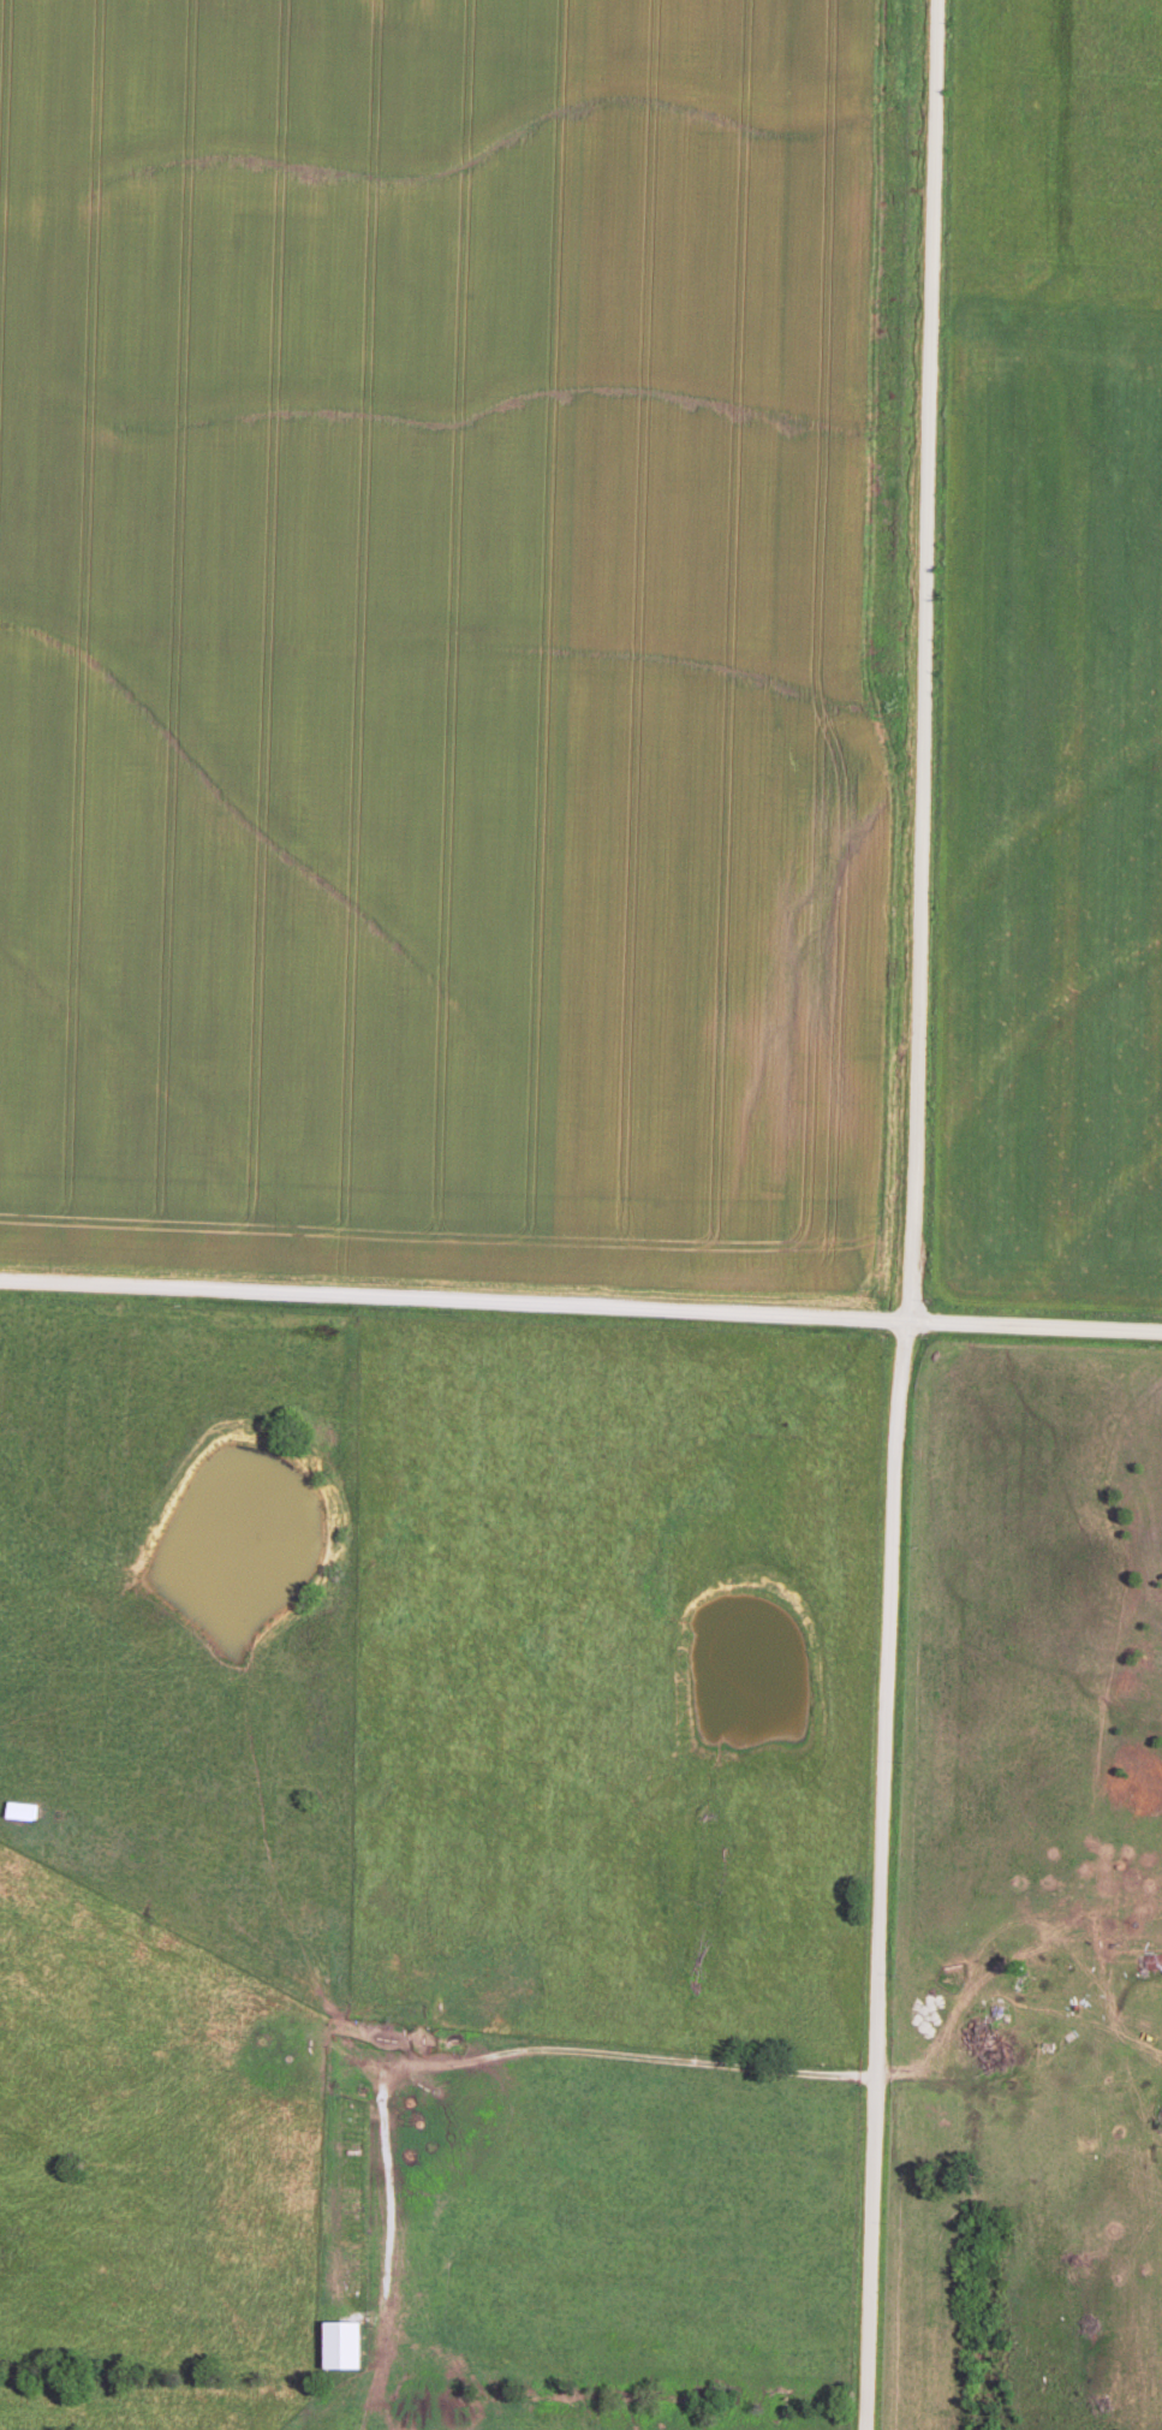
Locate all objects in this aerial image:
road: (918, 1216)
road: (580, 1307)

